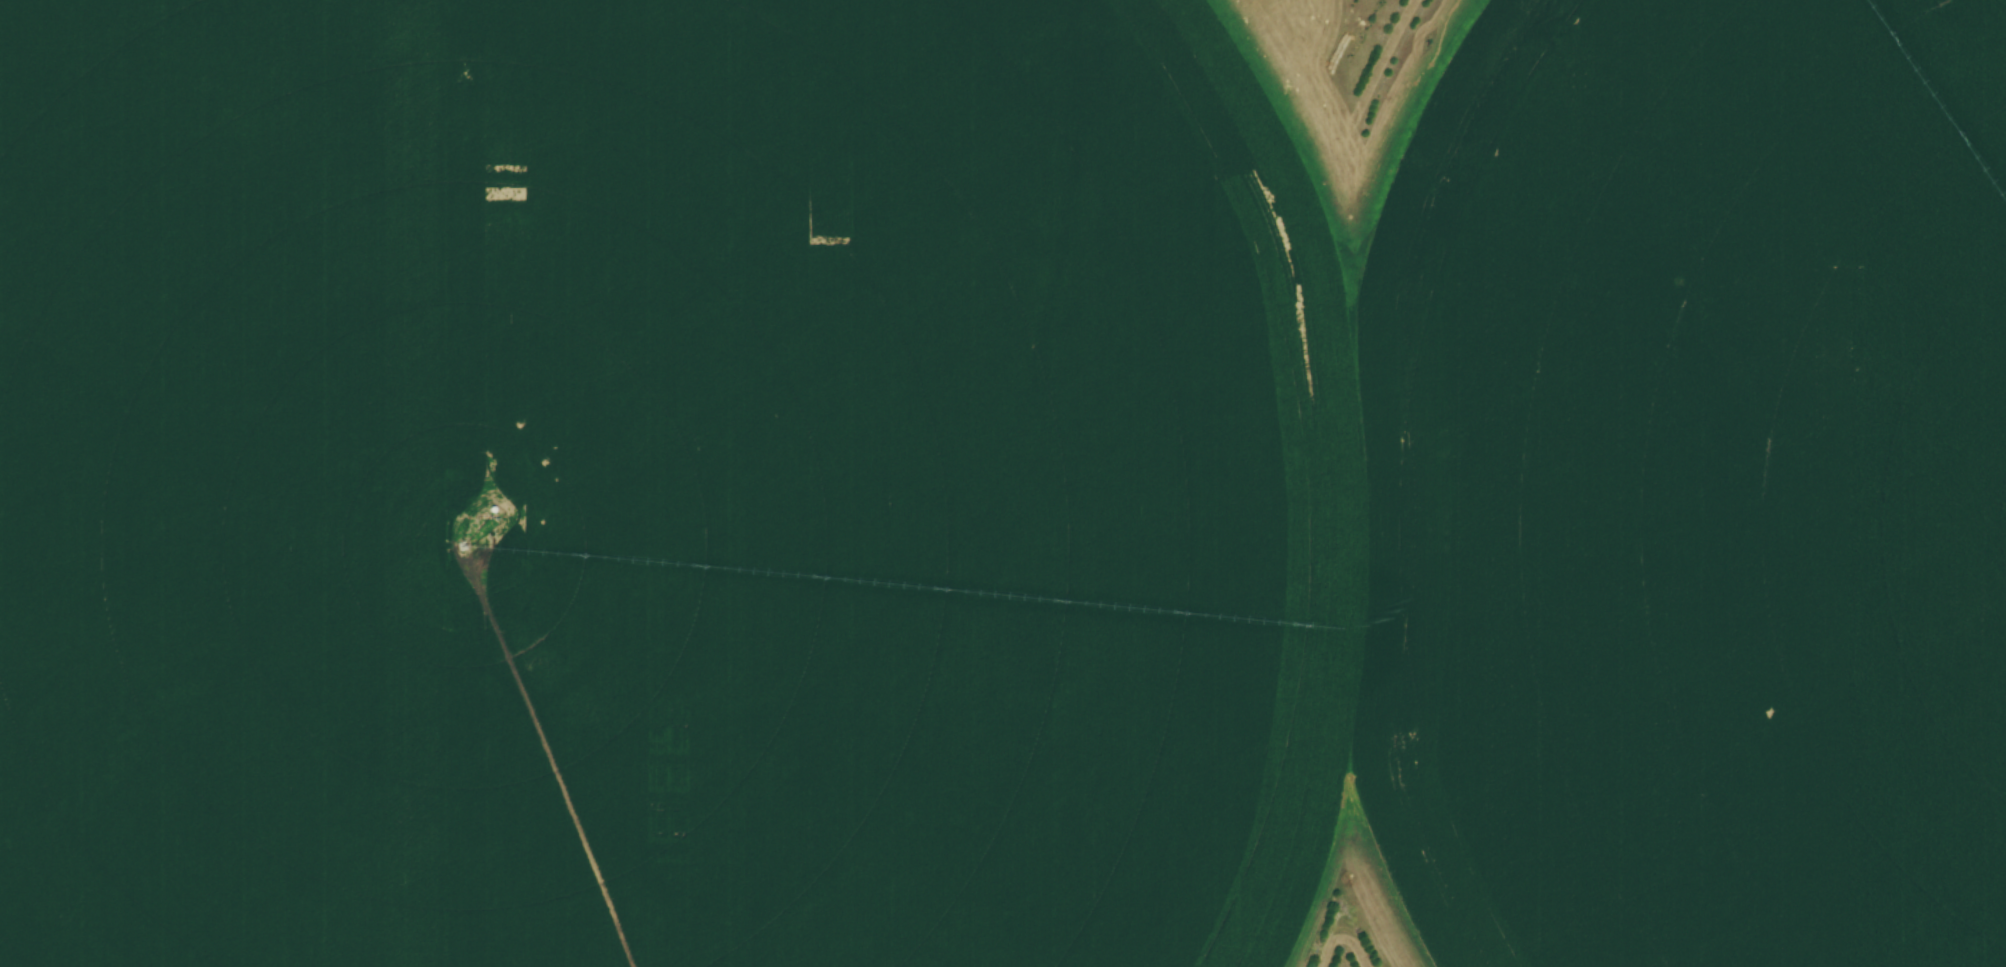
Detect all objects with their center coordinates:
building: (20, 32)
building: (803, 306)
building: (1040, 387)
building: (868, 397)
building: (873, 445)
building: (789, 449)
building: (964, 464)
building: (705, 468)
building: (261, 548)
building: (704, 611)
building: (313, 669)
building: (1764, 669)
building: (148, 677)
building: (1587, 700)
building: (1693, 753)
building: (352, 774)
building: (477, 958)

